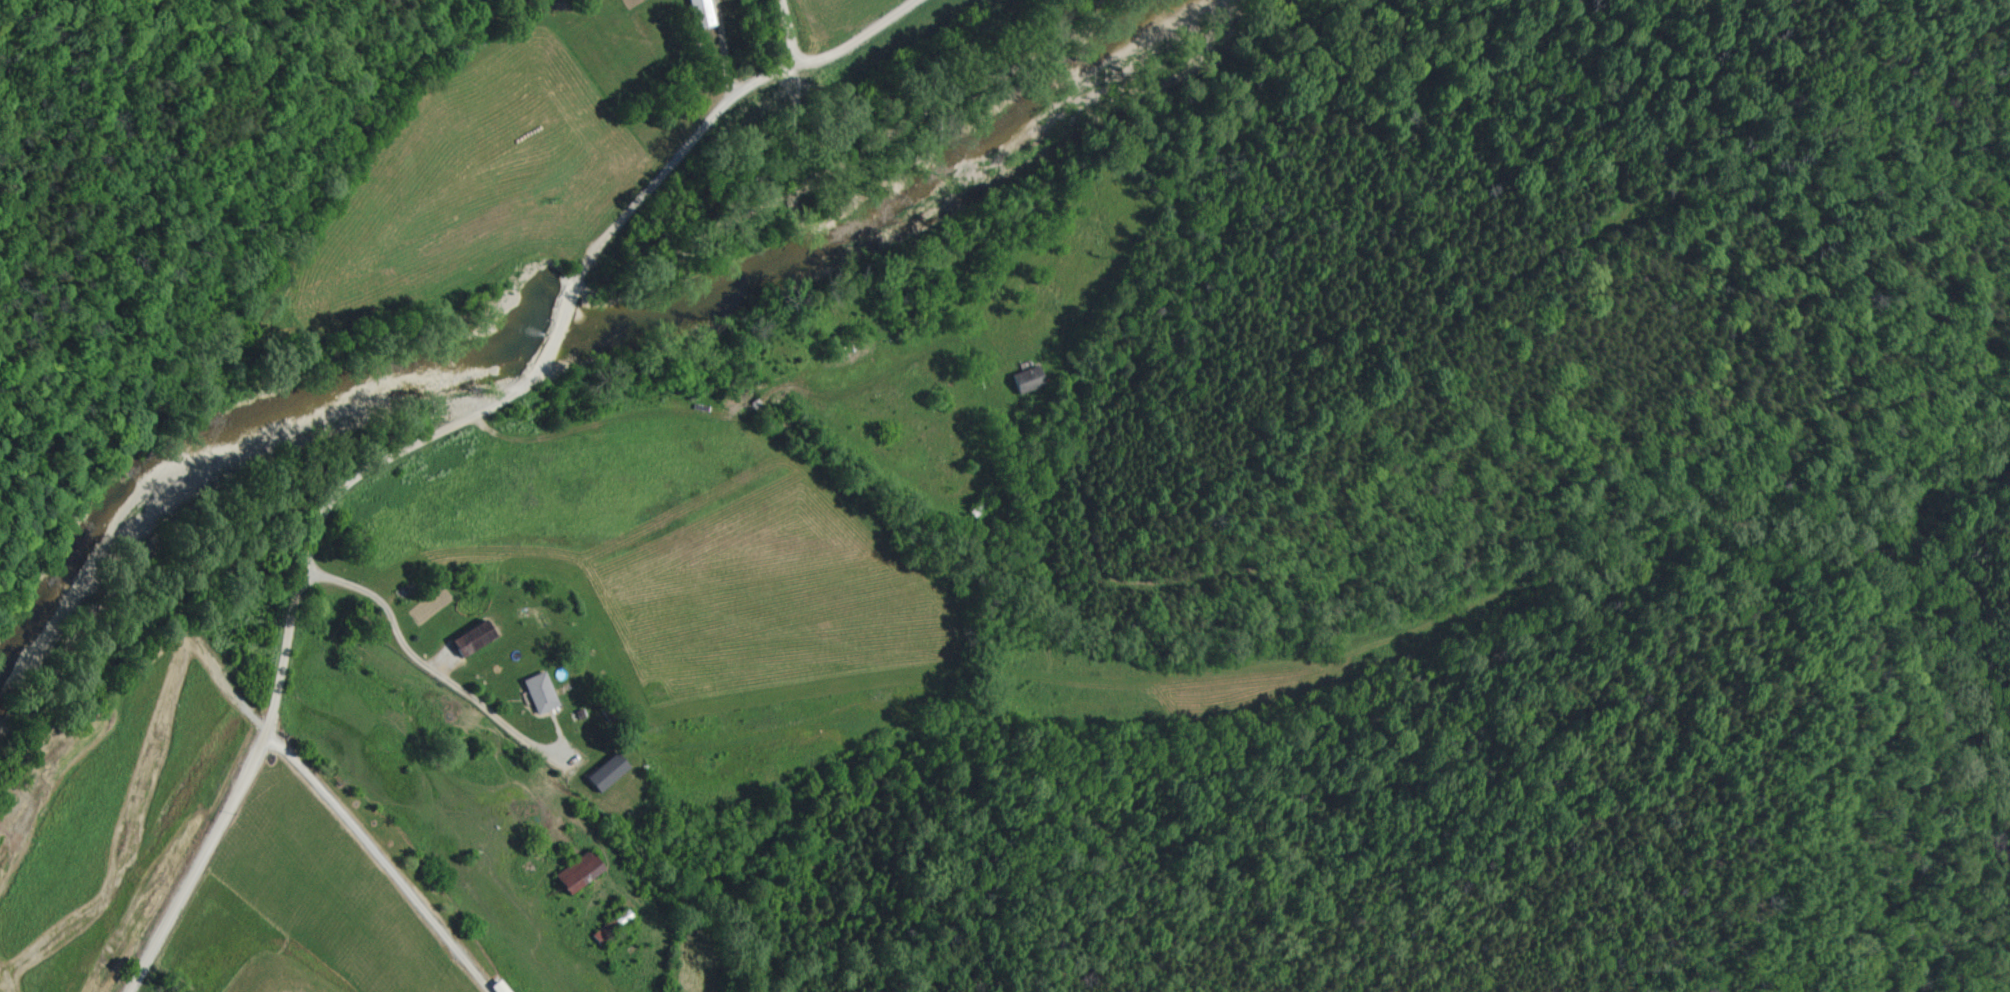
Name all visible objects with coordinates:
building: (697, 14)
crop: (831, 24)
road: (783, 34)
road: (721, 48)
road: (716, 114)
crop: (479, 188)
road: (558, 330)
river: (552, 333)
building: (1024, 382)
road: (287, 632)
building: (466, 641)
crop: (576, 667)
building: (535, 695)
building: (602, 775)
road: (387, 861)
building: (572, 875)

